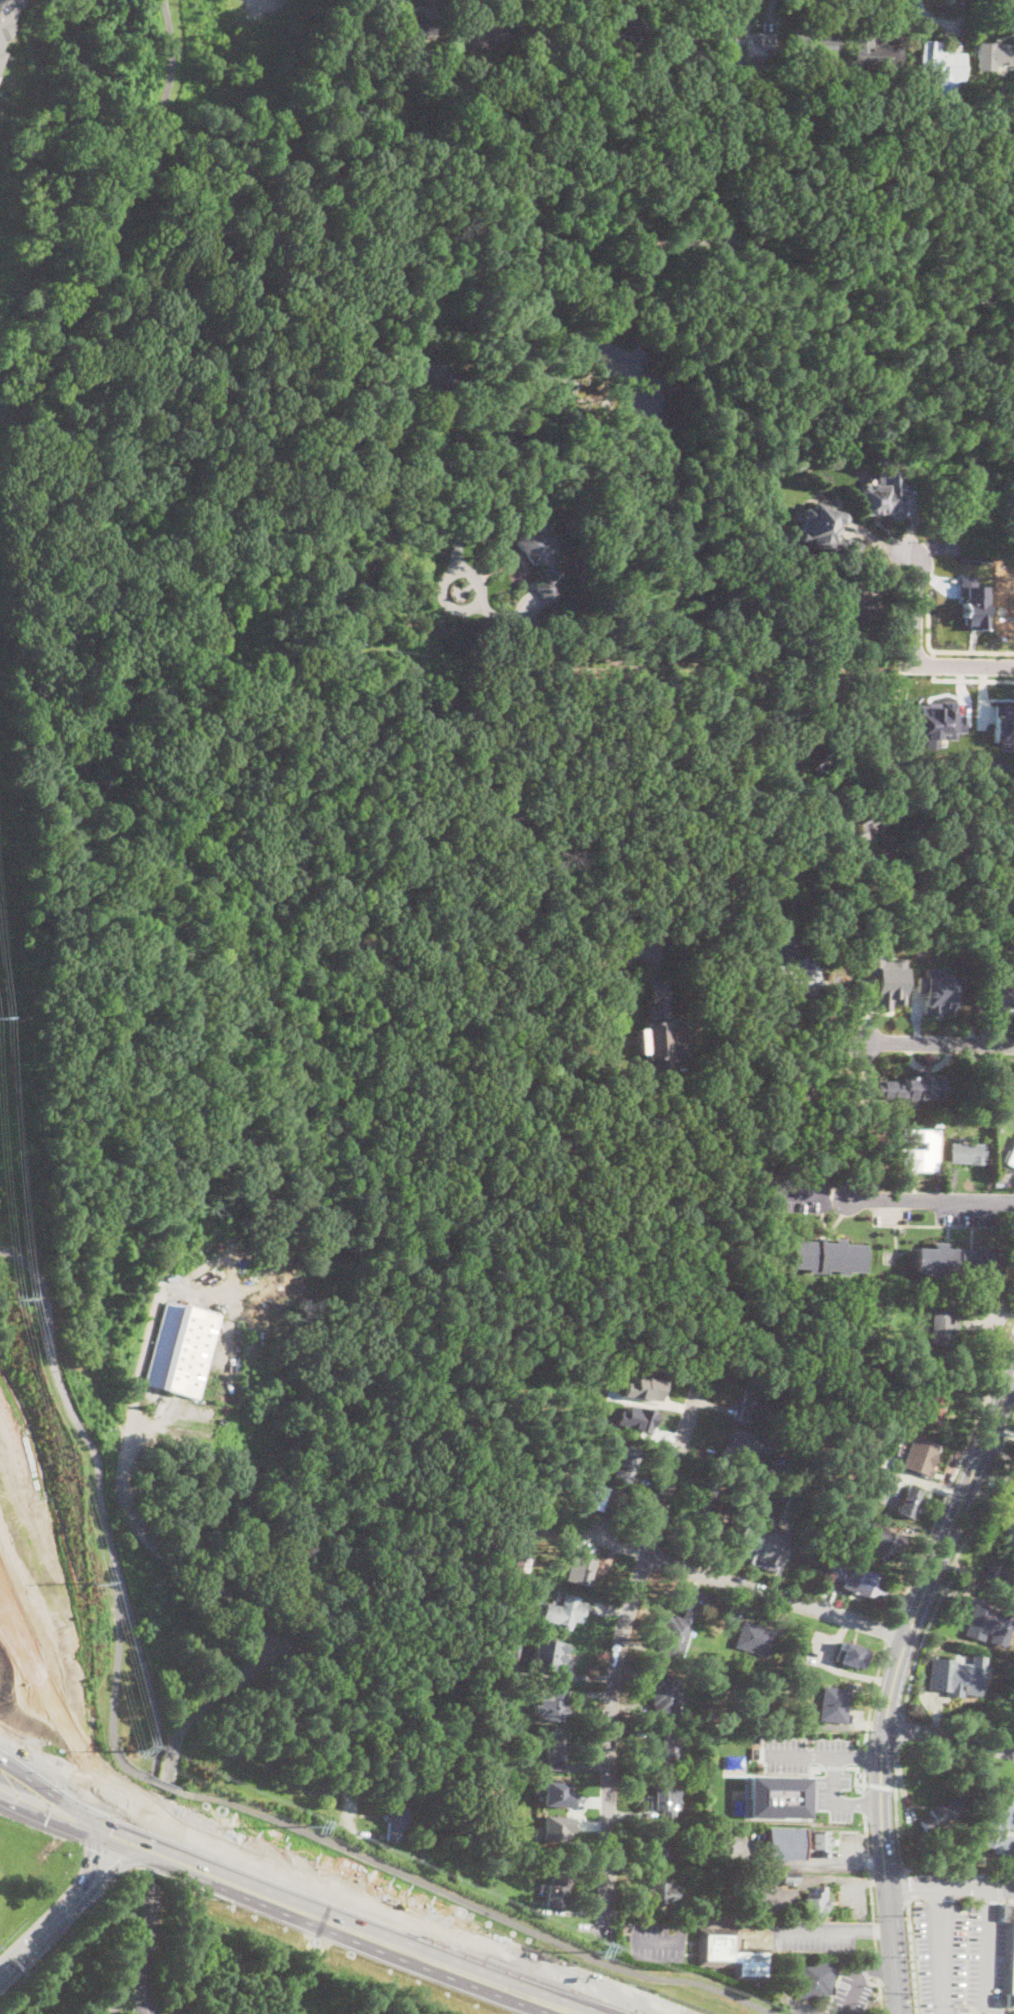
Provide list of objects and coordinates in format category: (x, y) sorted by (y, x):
road: (262, 6)
parking lot: (263, 8)
building: (4, 14)
building: (366, 23)
building: (416, 26)
building: (486, 32)
building: (613, 40)
building: (361, 42)
building: (682, 43)
building: (811, 43)
building: (549, 45)
building: (747, 48)
building: (874, 51)
building: (994, 55)
building: (929, 56)
building: (950, 59)
park: (205, 64)
building: (818, 75)
park: (56, 199)
road: (116, 216)
road: (651, 265)
building: (423, 293)
building: (370, 365)
building: (429, 375)
road: (419, 453)
building: (1007, 468)
building: (885, 494)
building: (359, 509)
building: (827, 529)
building: (538, 556)
building: (335, 591)
building: (856, 601)
building: (973, 604)
road: (914, 608)
road: (944, 650)
building: (543, 659)
road: (932, 663)
road: (963, 663)
road: (972, 678)
building: (1003, 724)
building: (861, 829)
building: (1007, 829)
road: (901, 893)
building: (678, 909)
road: (966, 949)
road: (596, 971)
building: (798, 979)
building: (884, 980)
building: (936, 991)
building: (1005, 999)
building: (781, 1024)
building: (659, 1031)
road: (938, 1042)
building: (800, 1086)
building: (914, 1087)
building: (920, 1151)
building: (960, 1153)
building: (1009, 1156)
building: (997, 1182)
road: (930, 1201)
building: (826, 1256)
building: (958, 1262)
building: (172, 1277)
power tower: (18, 1301)
road: (458, 1302)
building: (942, 1328)
building: (182, 1350)
building: (907, 1385)
building: (641, 1389)
road: (64, 1394)
building: (910, 1397)
building: (753, 1402)
building: (932, 1409)
building: (899, 1417)
building: (634, 1419)
building: (797, 1427)
building: (744, 1448)
building: (918, 1459)
building: (625, 1460)
building: (791, 1468)
road: (954, 1474)
building: (562, 1476)
building: (1013, 1489)
building: (751, 1490)
building: (705, 1494)
building: (606, 1501)
building: (909, 1502)
building: (794, 1503)
park: (93, 1509)
building: (710, 1523)
building: (518, 1530)
building: (1009, 1532)
building: (743, 1539)
road: (591, 1540)
road: (148, 1542)
road: (944, 1543)
building: (885, 1546)
building: (768, 1549)
building: (523, 1562)
road: (953, 1562)
building: (837, 1569)
building: (582, 1570)
building: (1003, 1573)
building: (861, 1581)
power tower: (92, 1585)
road: (116, 1586)
road: (777, 1597)
building: (568, 1609)
road: (125, 1618)
building: (978, 1622)
road: (890, 1629)
building: (675, 1633)
building: (754, 1639)
road: (624, 1642)
building: (515, 1646)
building: (546, 1652)
building: (851, 1655)
road: (144, 1668)
building: (954, 1676)
building: (512, 1683)
road: (873, 1691)
building: (664, 1696)
road: (114, 1705)
building: (553, 1705)
building: (834, 1706)
road: (346, 1708)
road: (899, 1730)
road: (949, 1735)
building: (556, 1749)
building: (669, 1751)
power tower: (138, 1752)
road: (799, 1755)
road: (865, 1755)
road: (858, 1756)
road: (833, 1767)
road: (32, 1772)
road: (856, 1772)
road: (834, 1780)
road: (864, 1780)
parking lot: (832, 1782)
road: (161, 1784)
road: (880, 1784)
road: (878, 1785)
building: (777, 1796)
building: (556, 1798)
building: (663, 1800)
road: (82, 1802)
road: (857, 1804)
road: (864, 1804)
road: (46, 1808)
traffic signals: (126, 1808)
traffic signals: (50, 1810)
road: (895, 1812)
building: (943, 1815)
building: (397, 1823)
power tower: (310, 1825)
building: (553, 1827)
building: (1000, 1827)
traffic signals: (95, 1843)
building: (818, 1843)
building: (784, 1844)
building: (661, 1848)
parking lot: (849, 1852)
building: (979, 1859)
traffic signals: (140, 1860)
road: (798, 1864)
road: (885, 1870)
road: (109, 1876)
road: (86, 1878)
building: (753, 1878)
building: (788, 1878)
building: (557, 1883)
road: (871, 1885)
road: (950, 1886)
road: (906, 1889)
building: (662, 1894)
road: (362, 1899)
building: (815, 1903)
road: (475, 1906)
building: (965, 1906)
building: (750, 1909)
road: (337, 1921)
road: (740, 1923)
road: (873, 1929)
parking lot: (812, 1935)
parking lot: (655, 1942)
road: (149, 1946)
road: (132, 1947)
road: (28, 1948)
road: (940, 1950)
road: (893, 1952)
power tower: (592, 1953)
building: (729, 1953)
road: (984, 1954)
building: (1009, 1954)
parking lot: (958, 1956)
road: (911, 1958)
park: (119, 1962)
road: (877, 1968)
road: (878, 1969)
building: (815, 1978)
parking lot: (850, 1989)
road: (852, 1993)
road: (879, 1996)
road: (125, 2010)

